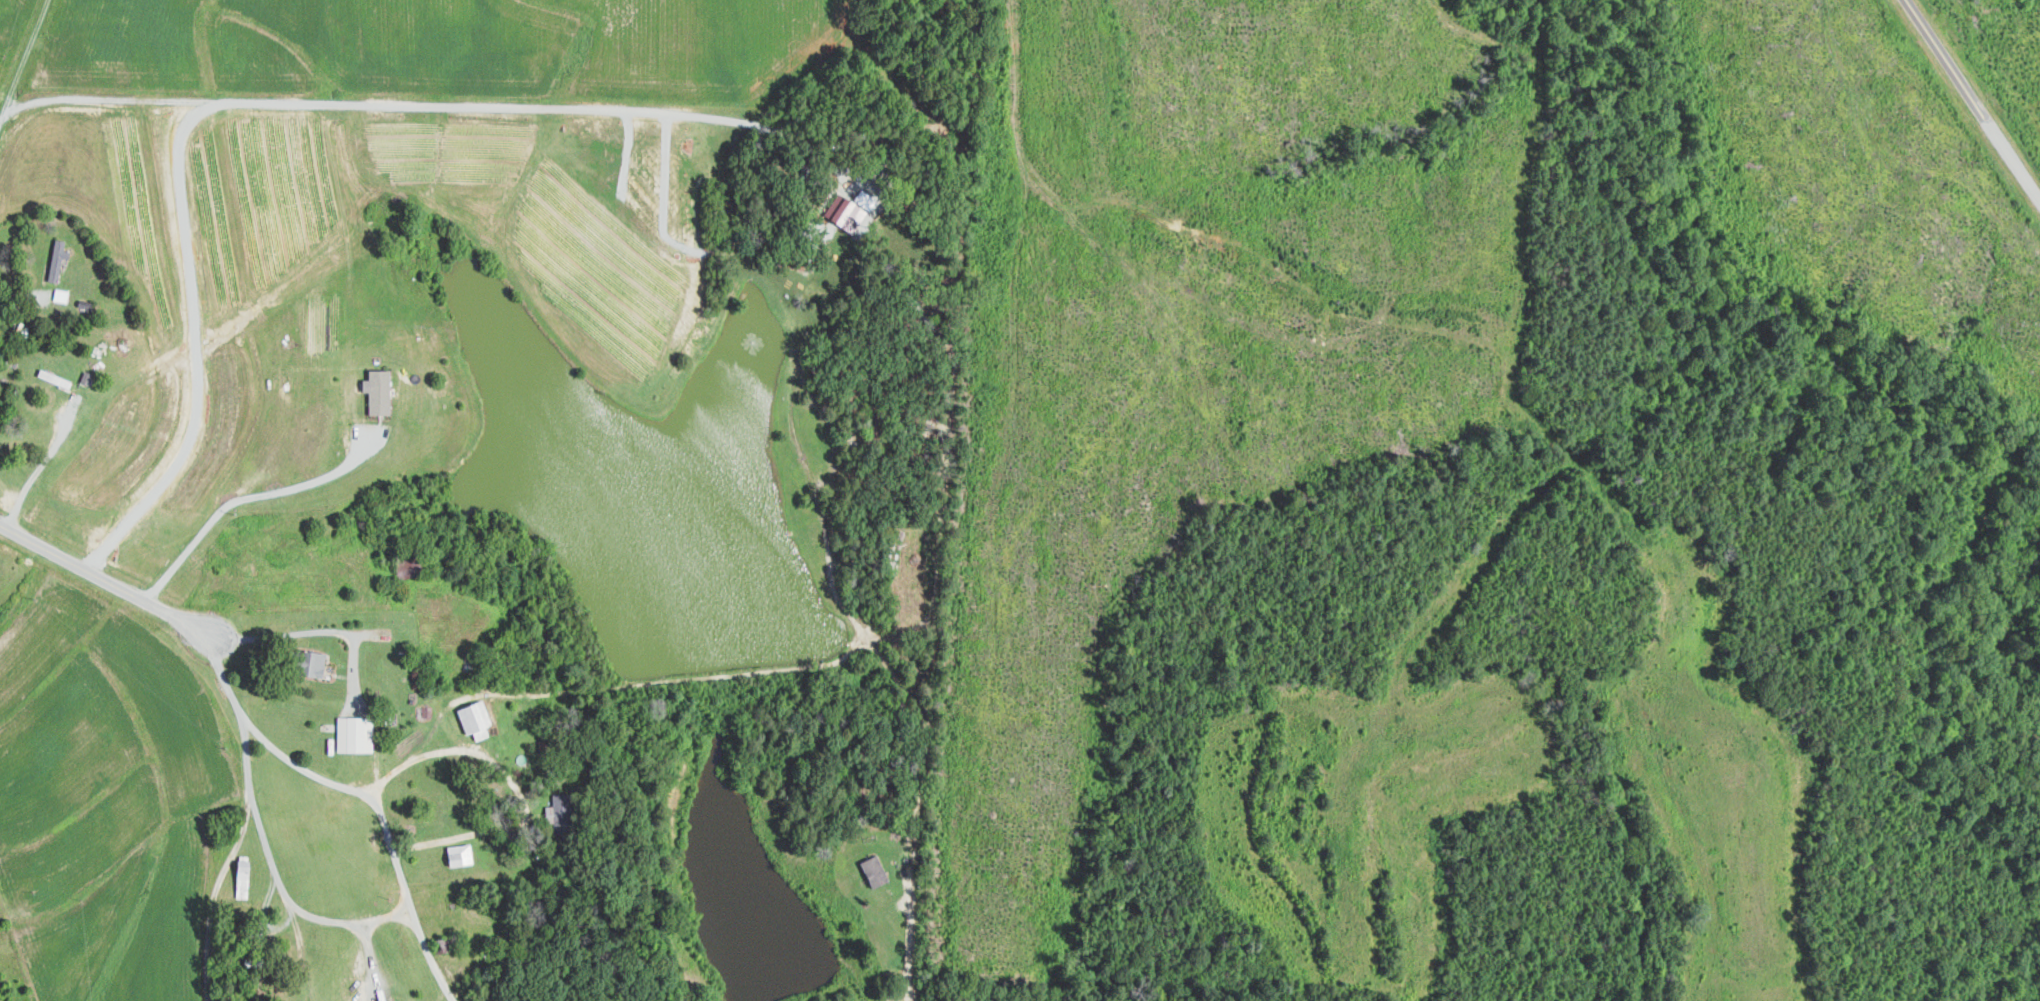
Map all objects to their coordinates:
road: (25, 63)
road: (1973, 102)
road: (440, 105)
building: (840, 212)
building: (60, 259)
building: (62, 295)
road: (22, 297)
road: (191, 353)
building: (383, 391)
road: (41, 463)
road: (244, 497)
building: (412, 568)
road: (104, 580)
road: (320, 630)
building: (317, 662)
dam: (725, 682)
road: (464, 696)
building: (479, 719)
building: (357, 733)
road: (511, 781)
road: (362, 792)
building: (566, 813)
building: (462, 854)
building: (870, 870)
road: (277, 876)
road: (214, 892)
road: (911, 948)
road: (372, 961)

